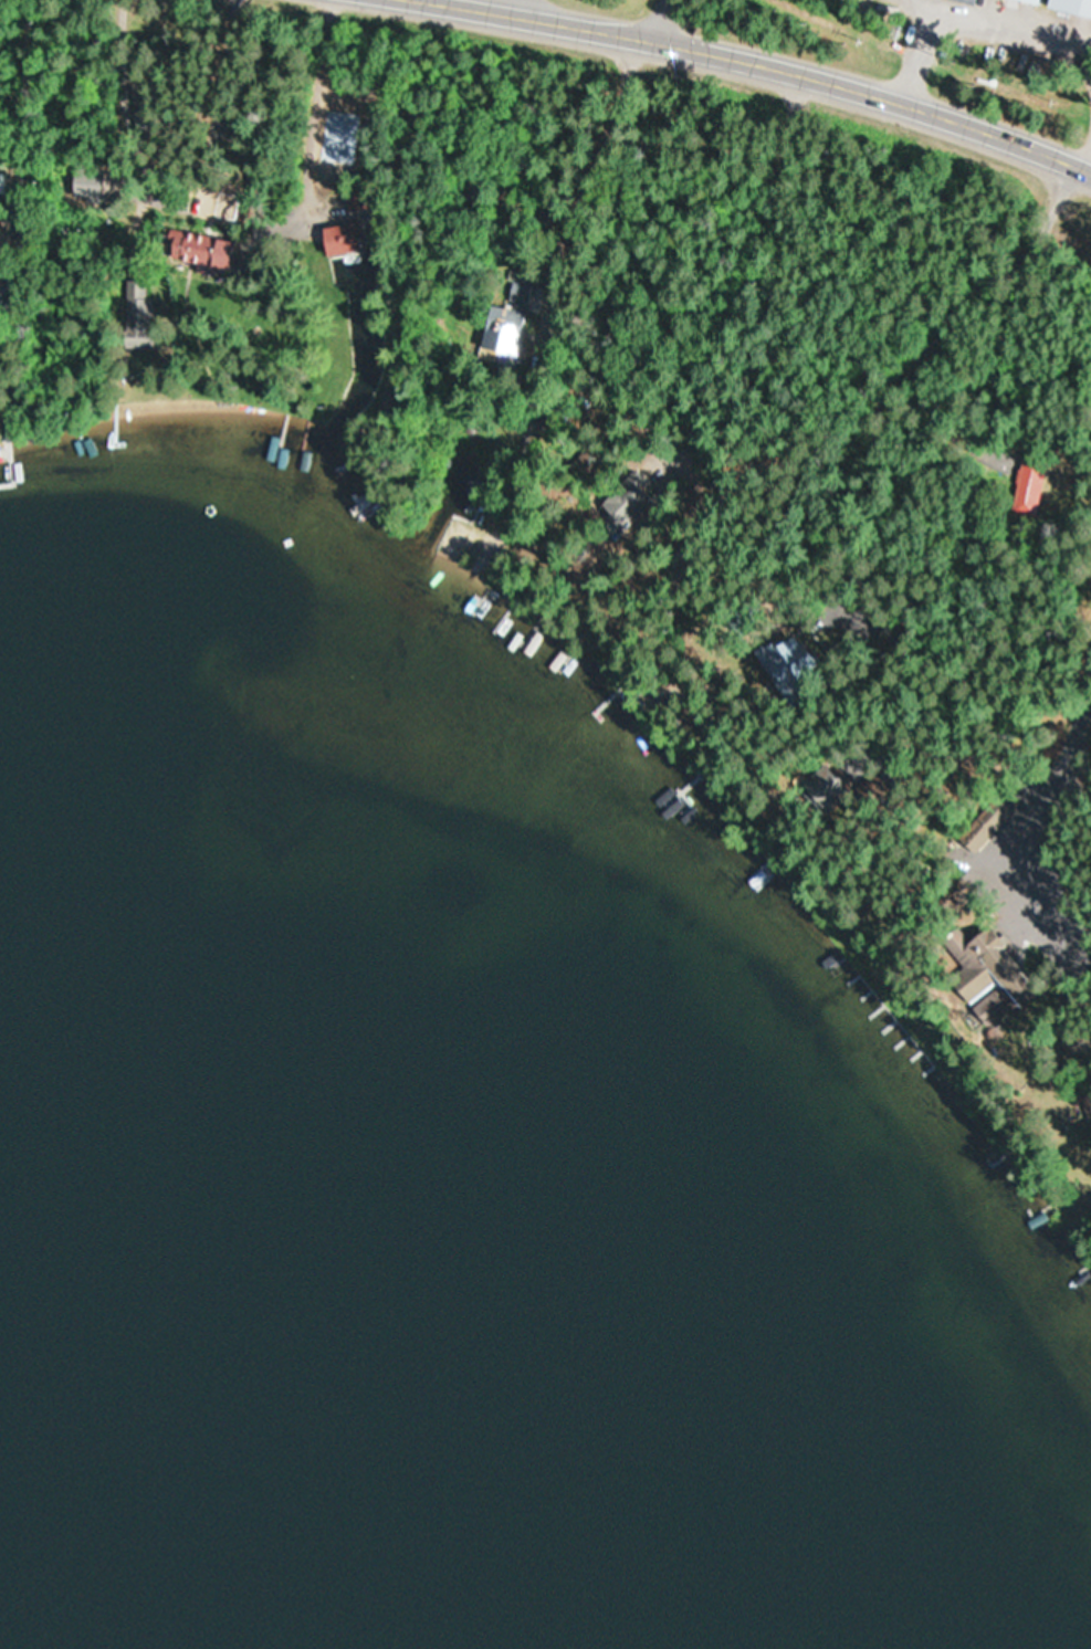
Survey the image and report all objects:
building: (965, 1)
building: (1029, 1)
building: (1070, 7)
road: (661, 20)
road: (753, 64)
road: (606, 151)
building: (6, 183)
building: (339, 239)
building: (196, 244)
building: (2, 256)
road: (742, 279)
building: (513, 311)
building: (138, 315)
road: (657, 379)
building: (1024, 480)
building: (628, 500)
road: (800, 626)
building: (791, 661)
building: (983, 822)
road: (1014, 840)
building: (984, 966)

